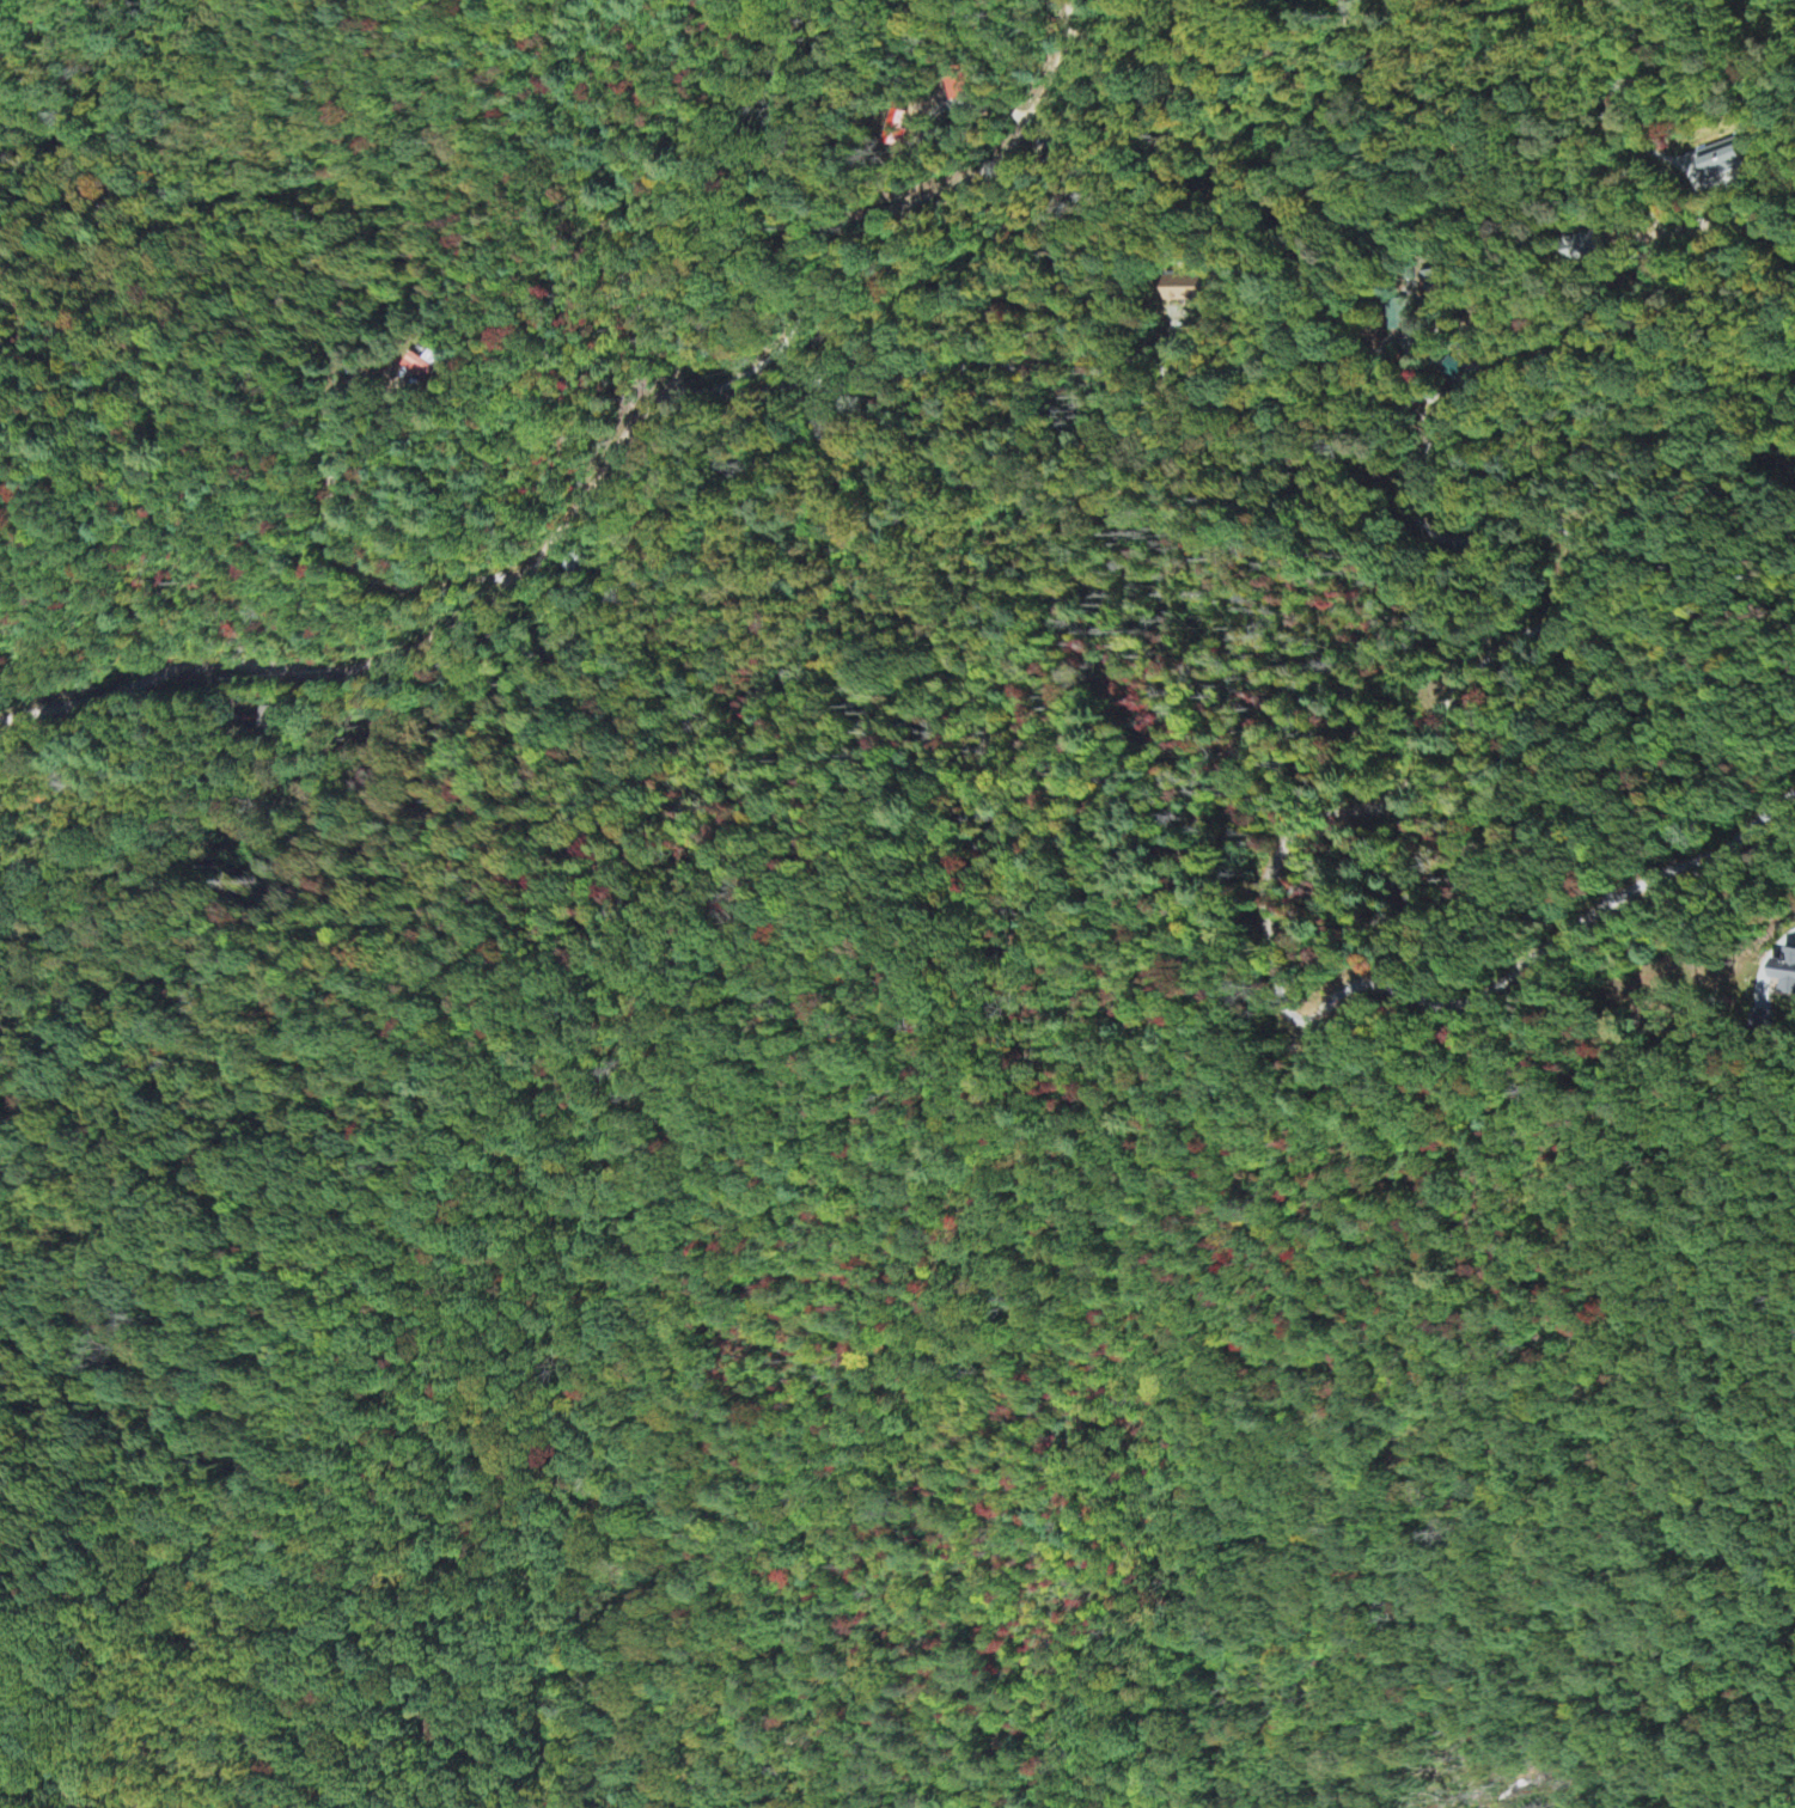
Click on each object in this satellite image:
building: (958, 85)
building: (1721, 160)
building: (1437, 283)
building: (1182, 291)
building: (1398, 317)
building: (425, 367)
road: (1280, 399)
road: (610, 452)
building: (280, 721)
building: (1788, 977)

